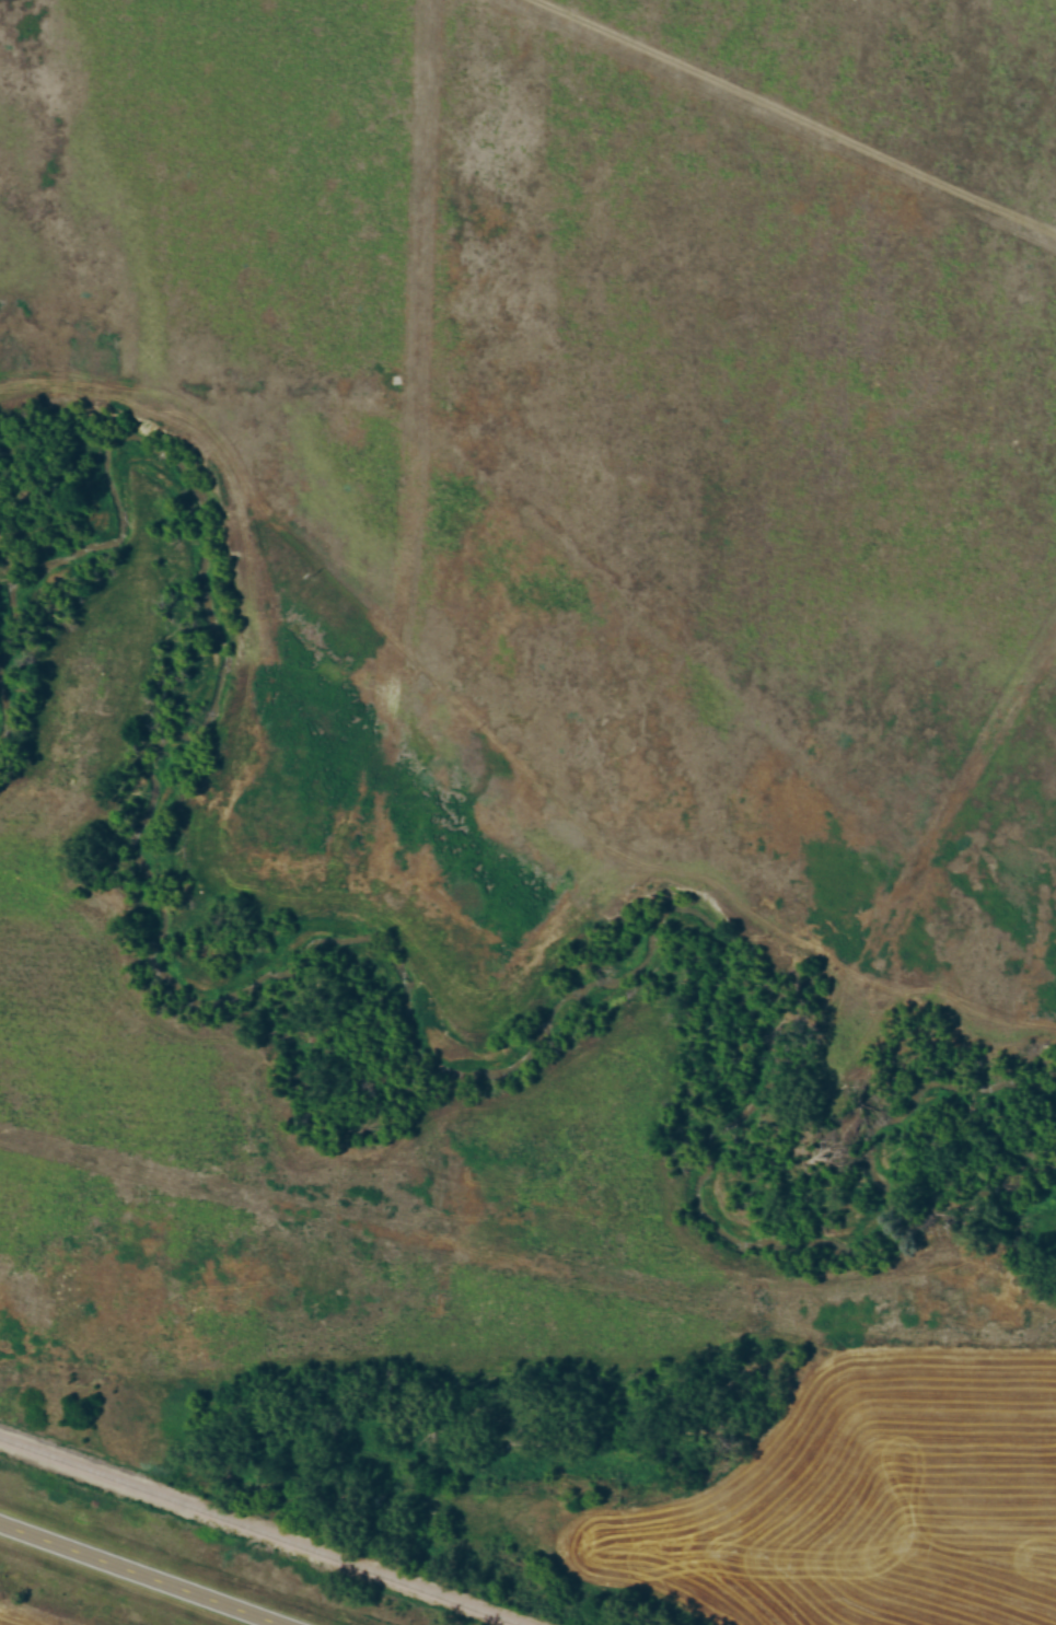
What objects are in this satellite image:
railway: (260, 1531)
road: (139, 1575)
crop: (18, 1618)

